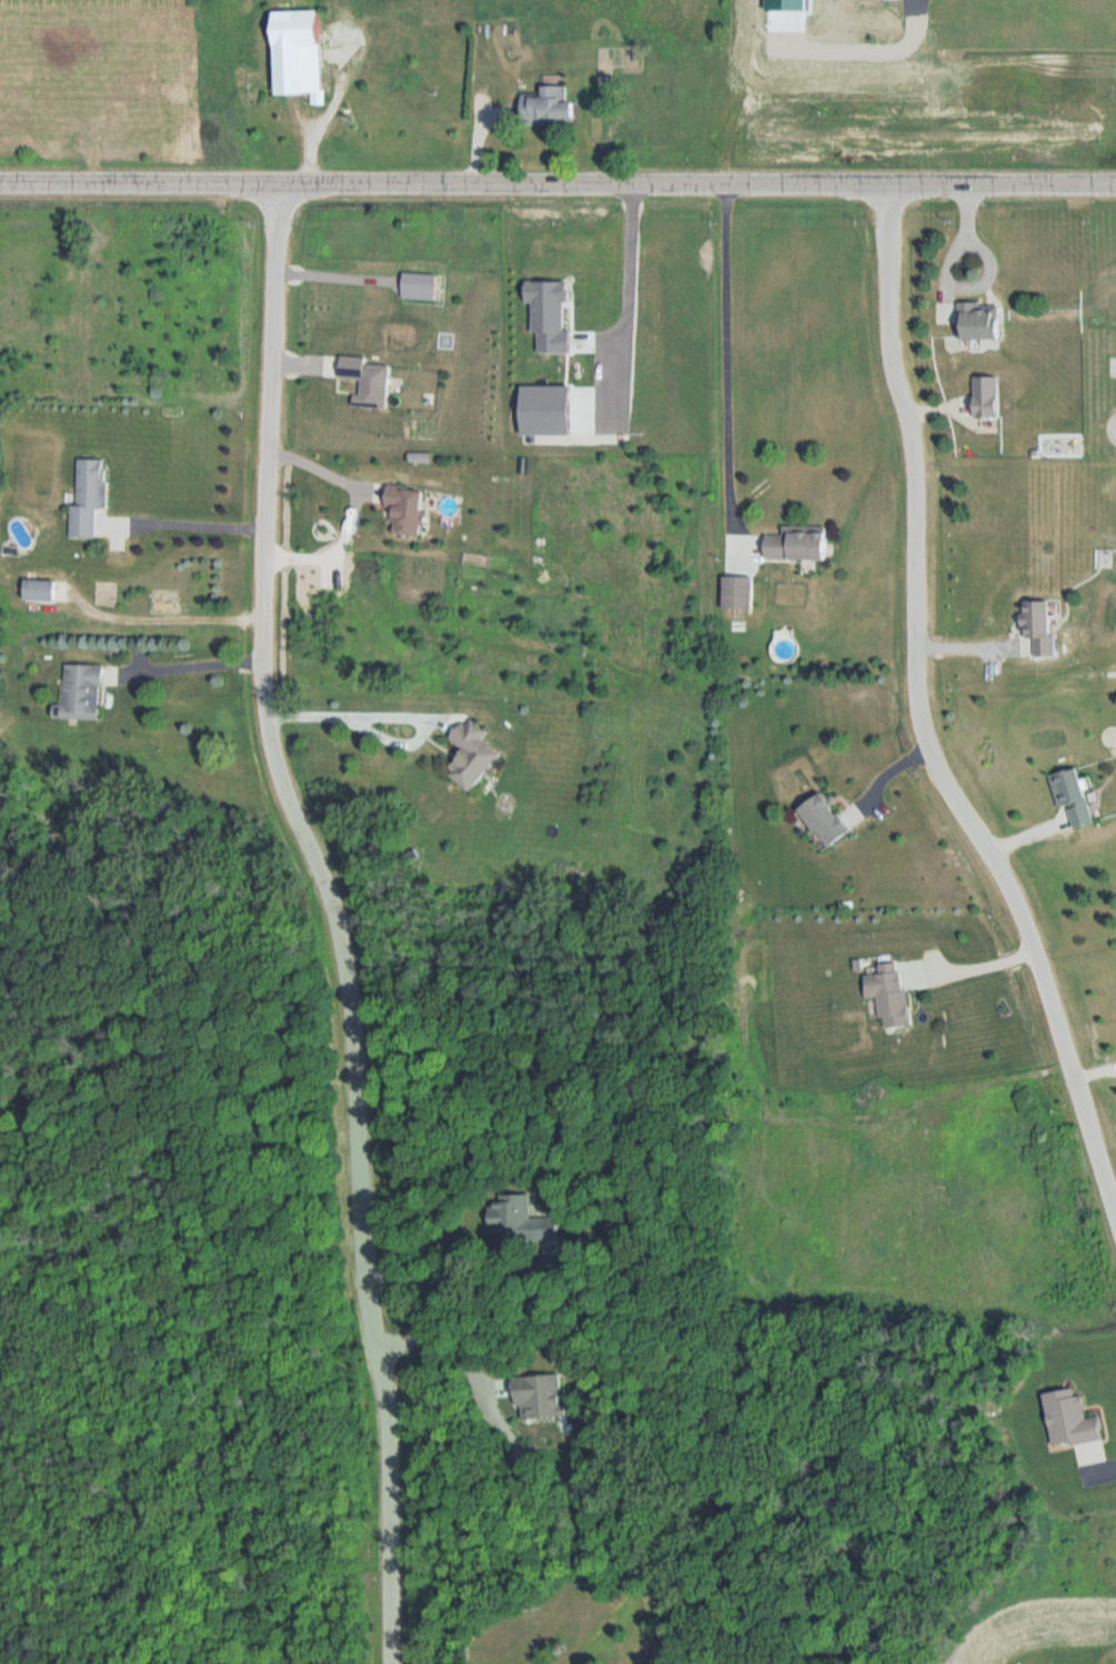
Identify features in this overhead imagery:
building: (299, 53)
building: (551, 104)
road: (325, 120)
road: (557, 185)
road: (955, 276)
road: (632, 292)
building: (981, 322)
road: (731, 355)
building: (985, 401)
building: (90, 497)
road: (204, 524)
building: (798, 545)
building: (40, 592)
building: (738, 594)
building: (1040, 625)
road: (195, 664)
building: (82, 694)
road: (355, 714)
road: (924, 718)
building: (474, 755)
building: (1074, 799)
building: (826, 821)
road: (341, 919)
road: (968, 960)
building: (891, 995)
building: (523, 1222)
building: (539, 1398)
road: (1088, 1472)

